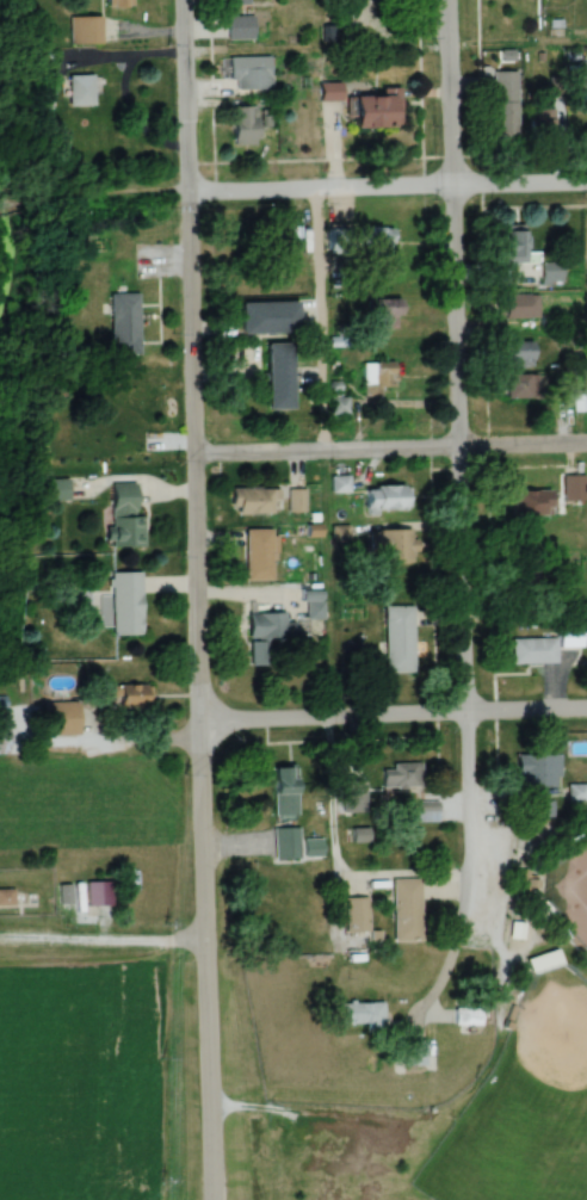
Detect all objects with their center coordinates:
building: (234, 2)
building: (119, 4)
building: (240, 27)
building: (85, 30)
building: (251, 74)
building: (80, 92)
building: (329, 92)
building: (505, 104)
building: (377, 110)
building: (243, 125)
road: (387, 187)
building: (375, 240)
building: (514, 247)
building: (550, 274)
building: (520, 304)
building: (268, 317)
building: (387, 317)
building: (124, 320)
road: (320, 321)
building: (518, 354)
building: (279, 375)
building: (376, 377)
building: (521, 385)
building: (105, 396)
building: (73, 440)
road: (390, 450)
road: (459, 459)
building: (55, 490)
building: (575, 493)
building: (387, 499)
building: (254, 501)
building: (531, 503)
building: (125, 517)
building: (391, 548)
building: (260, 556)
road: (197, 600)
building: (125, 604)
building: (314, 606)
building: (265, 636)
building: (570, 636)
building: (398, 641)
building: (533, 651)
building: (128, 698)
road: (394, 715)
building: (61, 719)
building: (4, 738)
building: (537, 771)
building: (401, 775)
building: (285, 785)
building: (352, 802)
building: (427, 811)
building: (286, 841)
park: (568, 892)
building: (97, 893)
building: (6, 898)
building: (406, 910)
building: (356, 915)
road: (107, 940)
building: (543, 964)
building: (362, 1015)
building: (466, 1017)
building: (413, 1053)
crop: (76, 1082)
park: (524, 1108)

